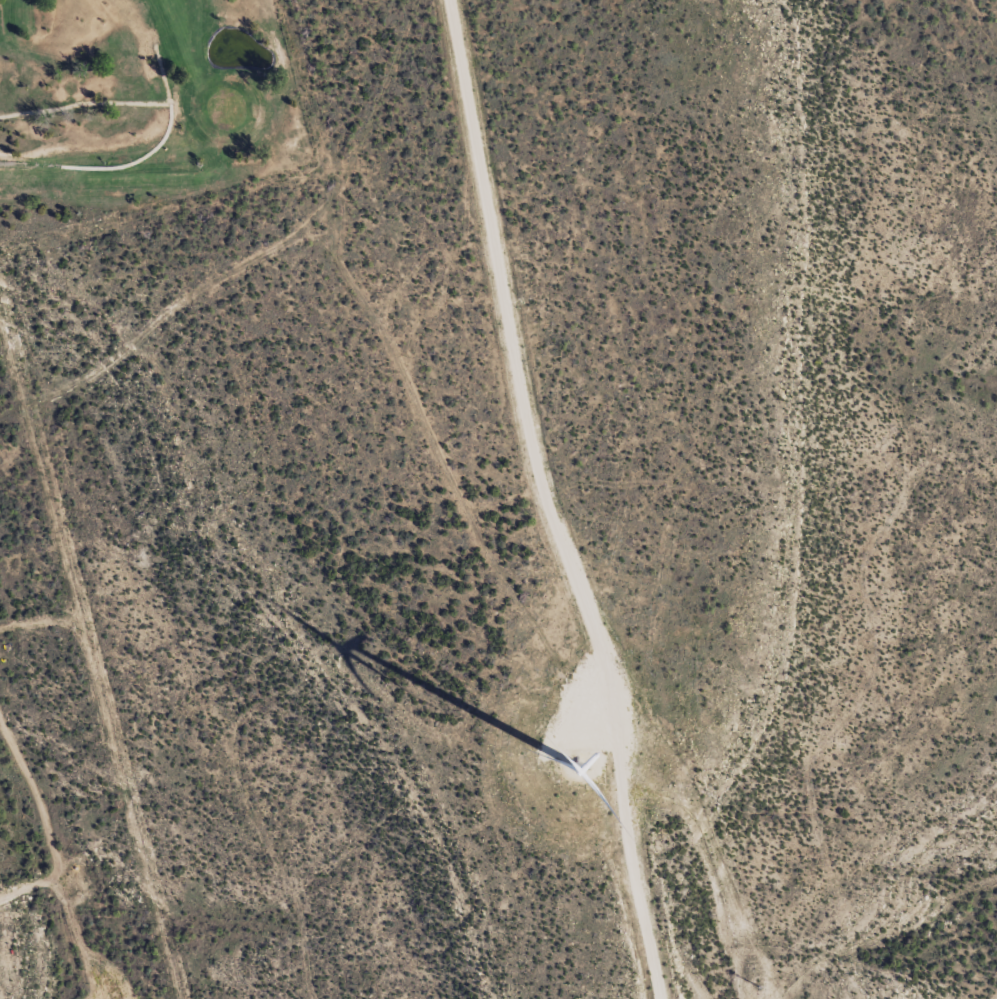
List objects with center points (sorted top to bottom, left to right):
wind turbine: (582, 761)

